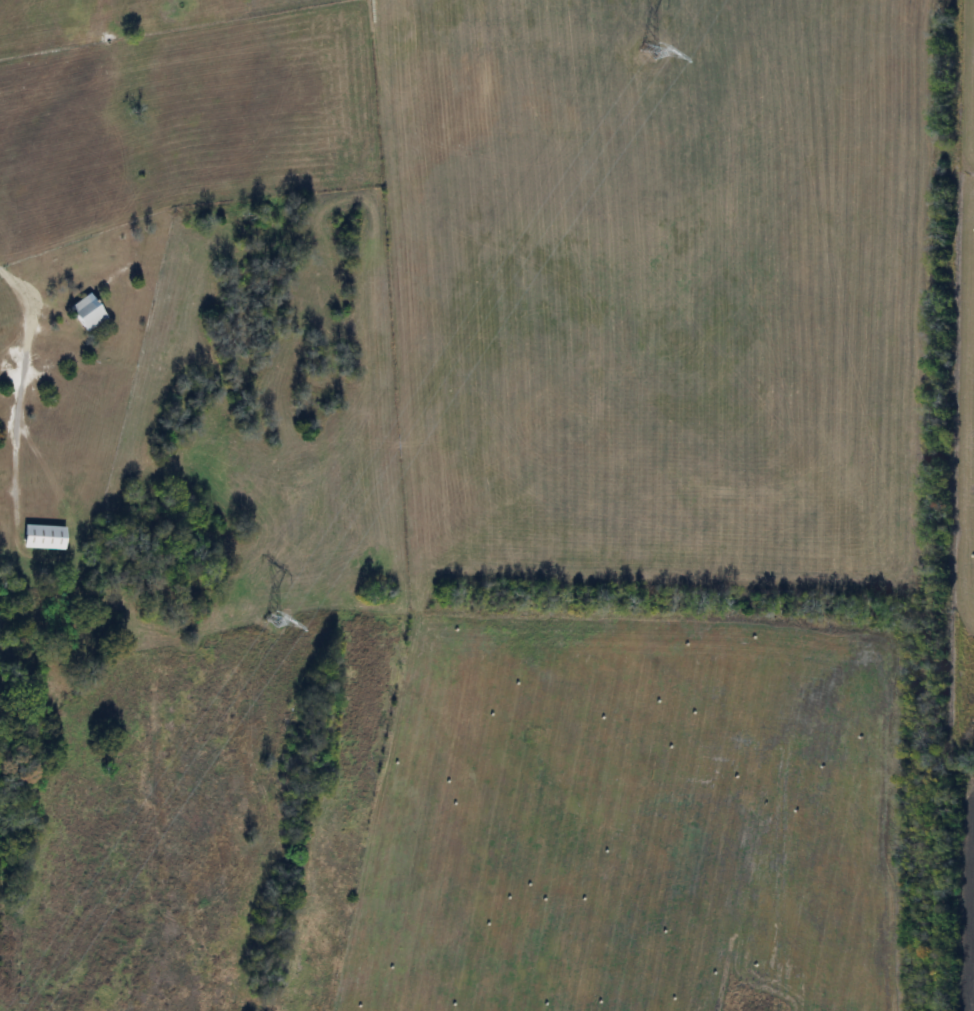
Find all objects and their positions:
power tower: (649, 52)
building: (87, 312)
road: (21, 379)
building: (43, 537)
power tower: (270, 619)

